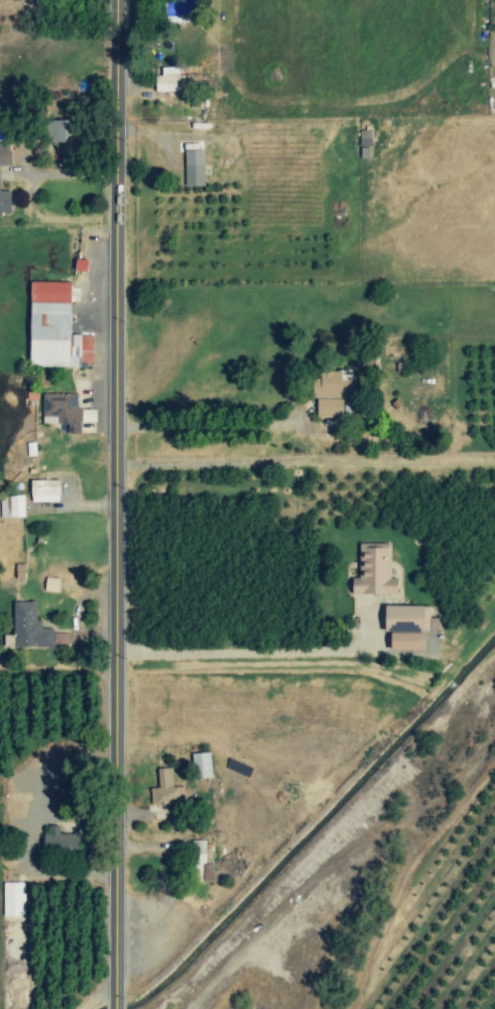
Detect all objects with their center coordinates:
building: (182, 10)
building: (169, 83)
building: (60, 132)
building: (4, 155)
building: (193, 169)
road: (70, 174)
building: (4, 203)
road: (57, 217)
building: (54, 329)
building: (332, 385)
building: (328, 409)
road: (209, 425)
road: (308, 465)
building: (43, 492)
road: (122, 504)
building: (11, 507)
building: (373, 571)
building: (50, 586)
building: (406, 626)
building: (28, 628)
building: (59, 640)
road: (244, 653)
building: (200, 766)
building: (165, 791)
building: (62, 839)
building: (201, 864)
building: (12, 900)

